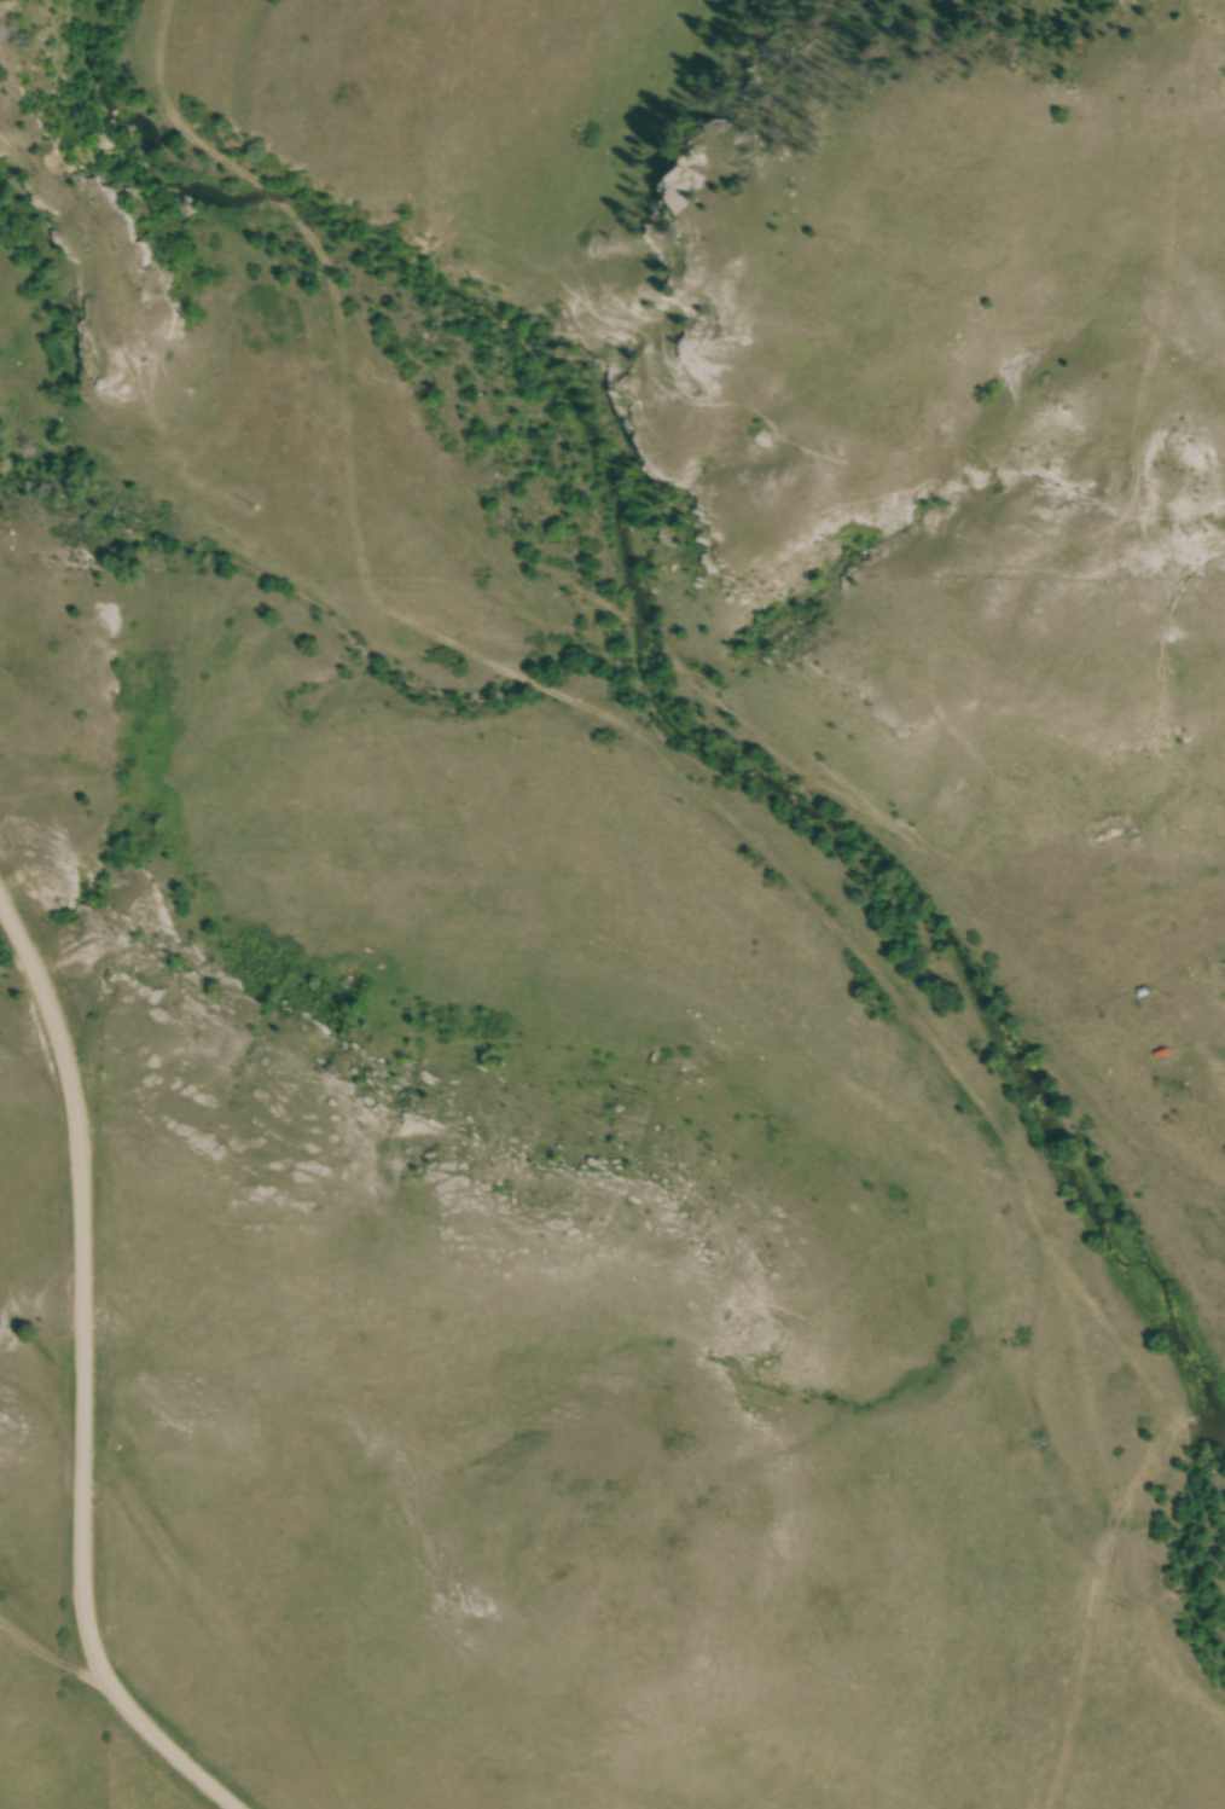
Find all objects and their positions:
building: (184, 209)
road: (85, 1378)

